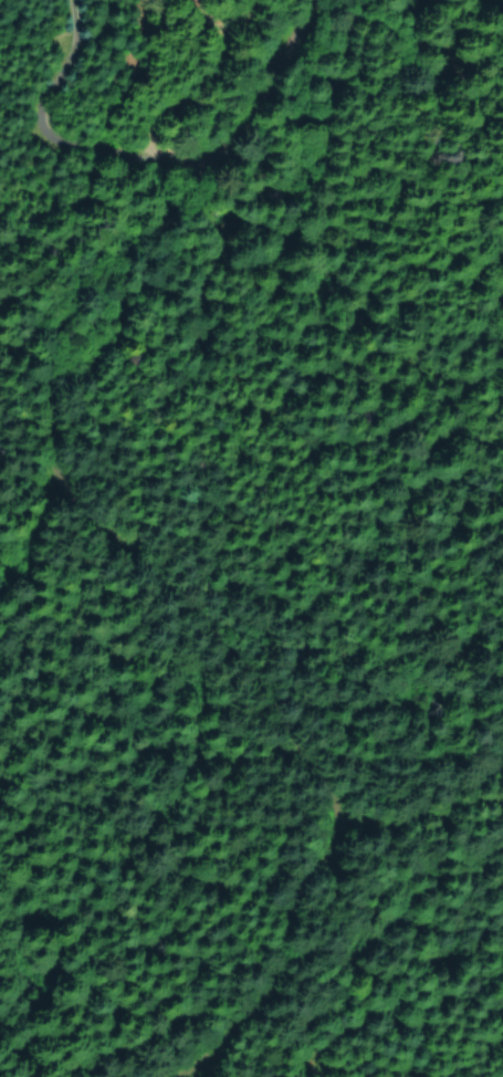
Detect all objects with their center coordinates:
road: (56, 138)
road: (108, 541)
road: (34, 542)
road: (408, 806)

